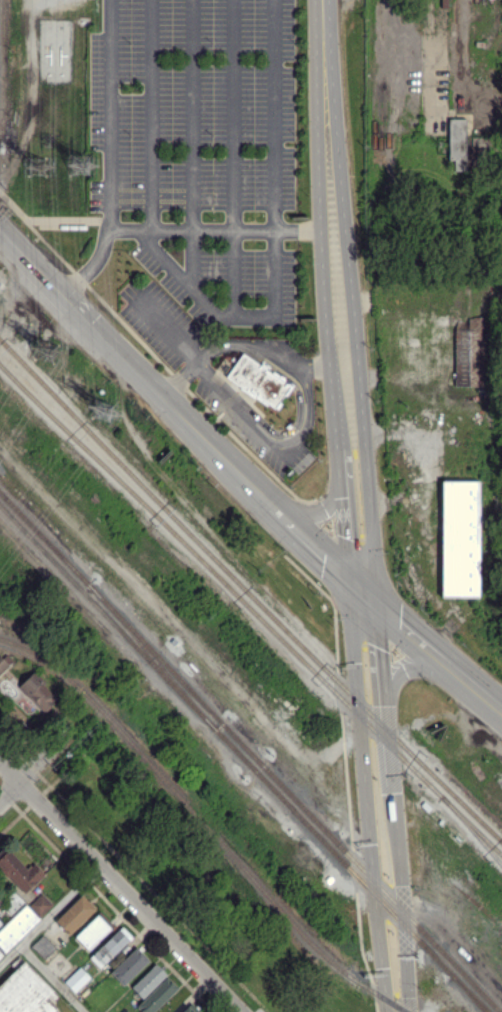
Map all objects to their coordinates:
building: (445, 4)
road: (324, 36)
road: (112, 115)
road: (152, 115)
building: (464, 141)
road: (193, 144)
parking lot: (202, 151)
road: (234, 160)
power tower: (80, 163)
power tower: (38, 164)
road: (58, 220)
road: (298, 230)
road: (194, 231)
road: (345, 233)
road: (320, 243)
road: (276, 247)
road: (93, 267)
parking lot: (162, 322)
road: (168, 330)
road: (250, 346)
building: (469, 352)
power tower: (44, 355)
road: (153, 355)
road: (135, 367)
road: (317, 368)
road: (181, 380)
building: (257, 380)
road: (300, 399)
power tower: (105, 408)
parking lot: (252, 426)
road: (363, 431)
road: (271, 442)
road: (336, 450)
road: (317, 508)
road: (280, 512)
road: (343, 535)
road: (370, 537)
building: (459, 538)
road: (331, 547)
road: (317, 551)
road: (308, 577)
traffic signals: (347, 583)
railway: (249, 592)
road: (361, 594)
traffic signals: (375, 606)
railway: (251, 608)
road: (420, 644)
railway: (153, 656)
building: (4, 662)
traffic signals: (410, 666)
road: (407, 667)
road: (356, 683)
building: (38, 691)
road: (484, 696)
road: (384, 700)
railway: (250, 752)
road: (44, 756)
railway: (244, 758)
road: (348, 807)
railway: (203, 822)
railway: (472, 829)
building: (19, 871)
road: (120, 888)
road: (375, 898)
building: (0, 901)
road: (402, 902)
building: (40, 904)
building: (74, 914)
road: (50, 915)
building: (0, 919)
building: (16, 926)
building: (92, 931)
building: (42, 946)
building: (110, 946)
building: (0, 953)
building: (129, 965)
road: (52, 978)
building: (76, 979)
building: (148, 980)
building: (25, 993)
railway: (468, 994)
building: (157, 995)
building: (190, 1009)

